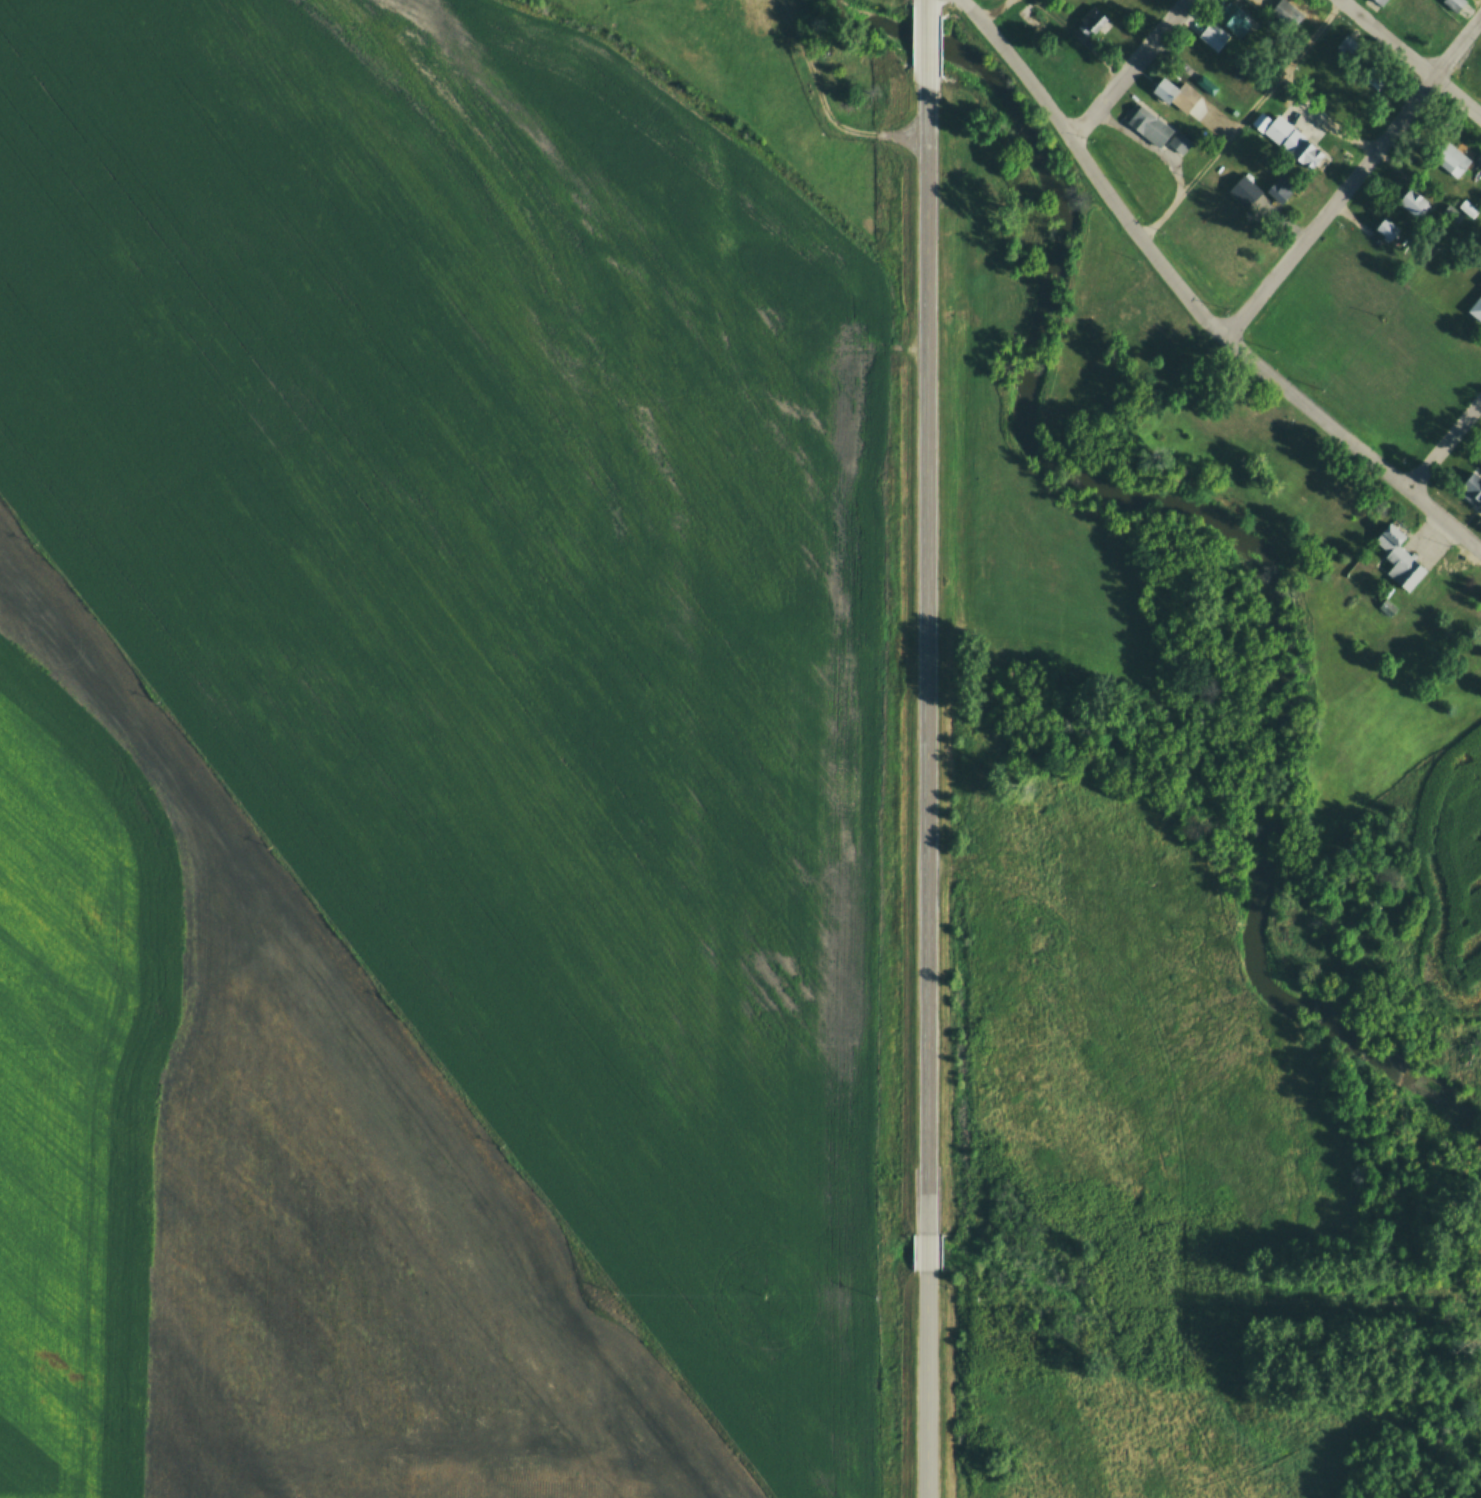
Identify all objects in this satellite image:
building: (1380, 1)
building: (1455, 4)
building: (1287, 11)
building: (1233, 17)
building: (1031, 19)
building: (1094, 19)
building: (1213, 35)
road: (925, 43)
building: (1346, 45)
road: (1411, 57)
road: (1128, 68)
building: (1372, 75)
building: (1164, 88)
road: (1242, 119)
building: (1148, 124)
building: (1288, 139)
building: (1180, 141)
building: (1449, 158)
road: (1353, 175)
building: (1281, 186)
building: (1243, 189)
building: (1411, 201)
building: (1451, 212)
building: (1385, 228)
building: (1480, 284)
road: (1192, 302)
building: (1476, 307)
building: (1271, 439)
road: (1444, 444)
building: (1469, 489)
river: (1212, 519)
building: (1398, 559)
building: (1386, 606)
road: (929, 688)
road: (932, 1394)

